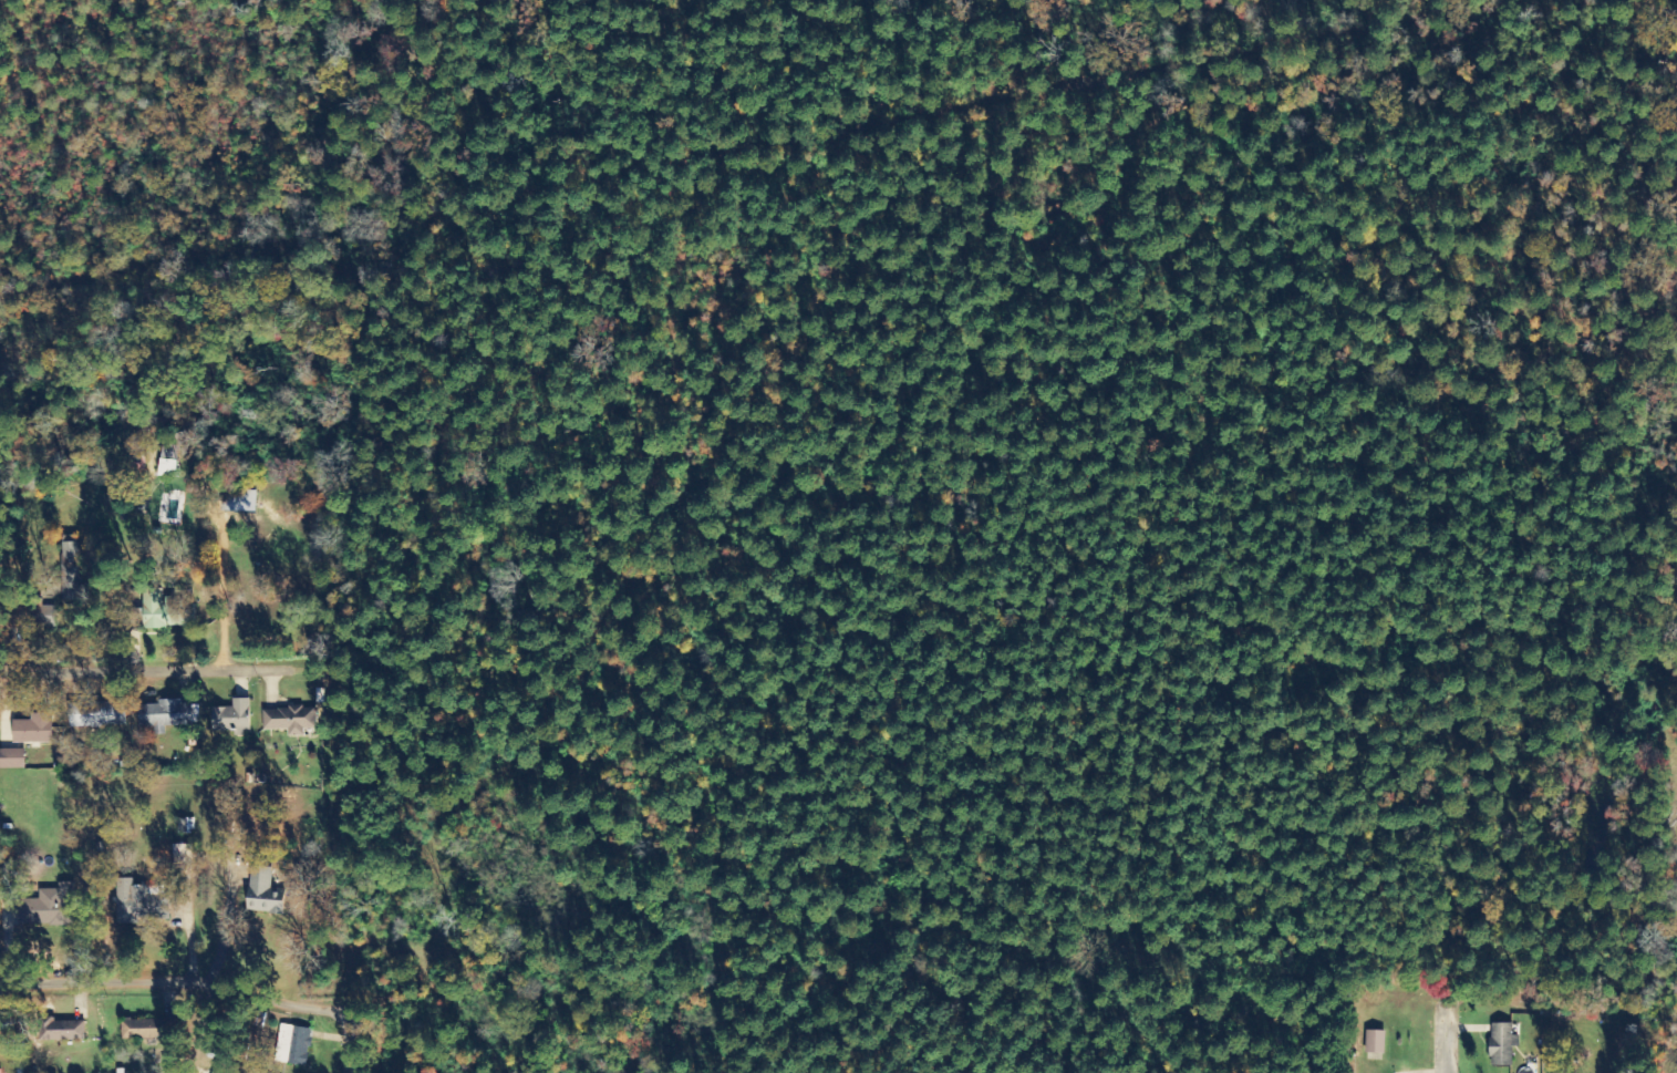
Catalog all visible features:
building: (166, 468)
building: (235, 503)
building: (70, 568)
building: (167, 611)
building: (45, 616)
road: (158, 629)
road: (93, 661)
building: (97, 714)
building: (167, 715)
building: (232, 715)
building: (290, 720)
building: (33, 730)
building: (12, 760)
building: (263, 891)
building: (139, 904)
building: (49, 906)
road: (177, 980)
building: (0, 1017)
road: (197, 1025)
building: (64, 1030)
building: (148, 1030)
building: (1375, 1042)
building: (1501, 1044)
building: (293, 1045)
road: (1450, 1050)
road: (353, 1051)
building: (0, 1071)
building: (214, 1072)

